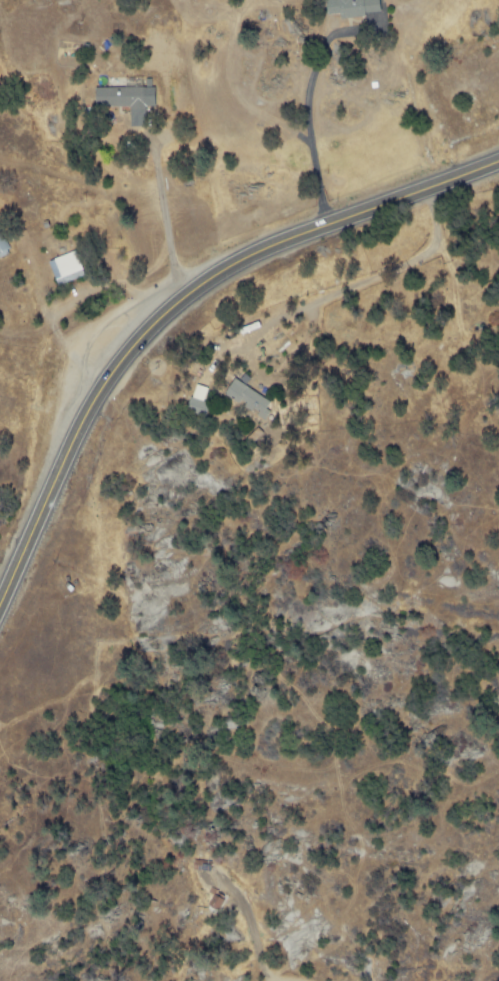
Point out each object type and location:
building: (126, 98)
road: (306, 106)
road: (168, 218)
building: (4, 243)
building: (71, 269)
road: (177, 306)
building: (253, 399)
building: (203, 402)
building: (220, 902)
road: (253, 929)

